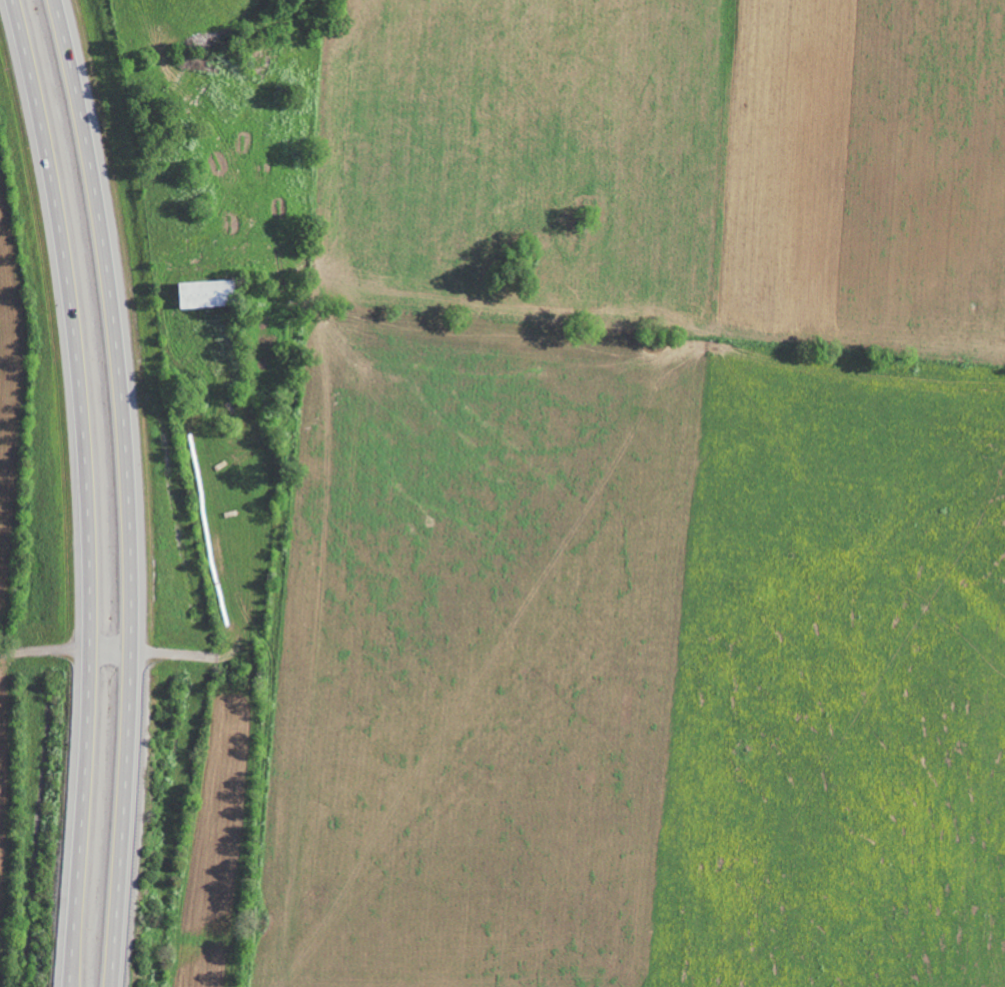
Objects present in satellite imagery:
building: (205, 293)
road: (87, 490)
road: (130, 490)

